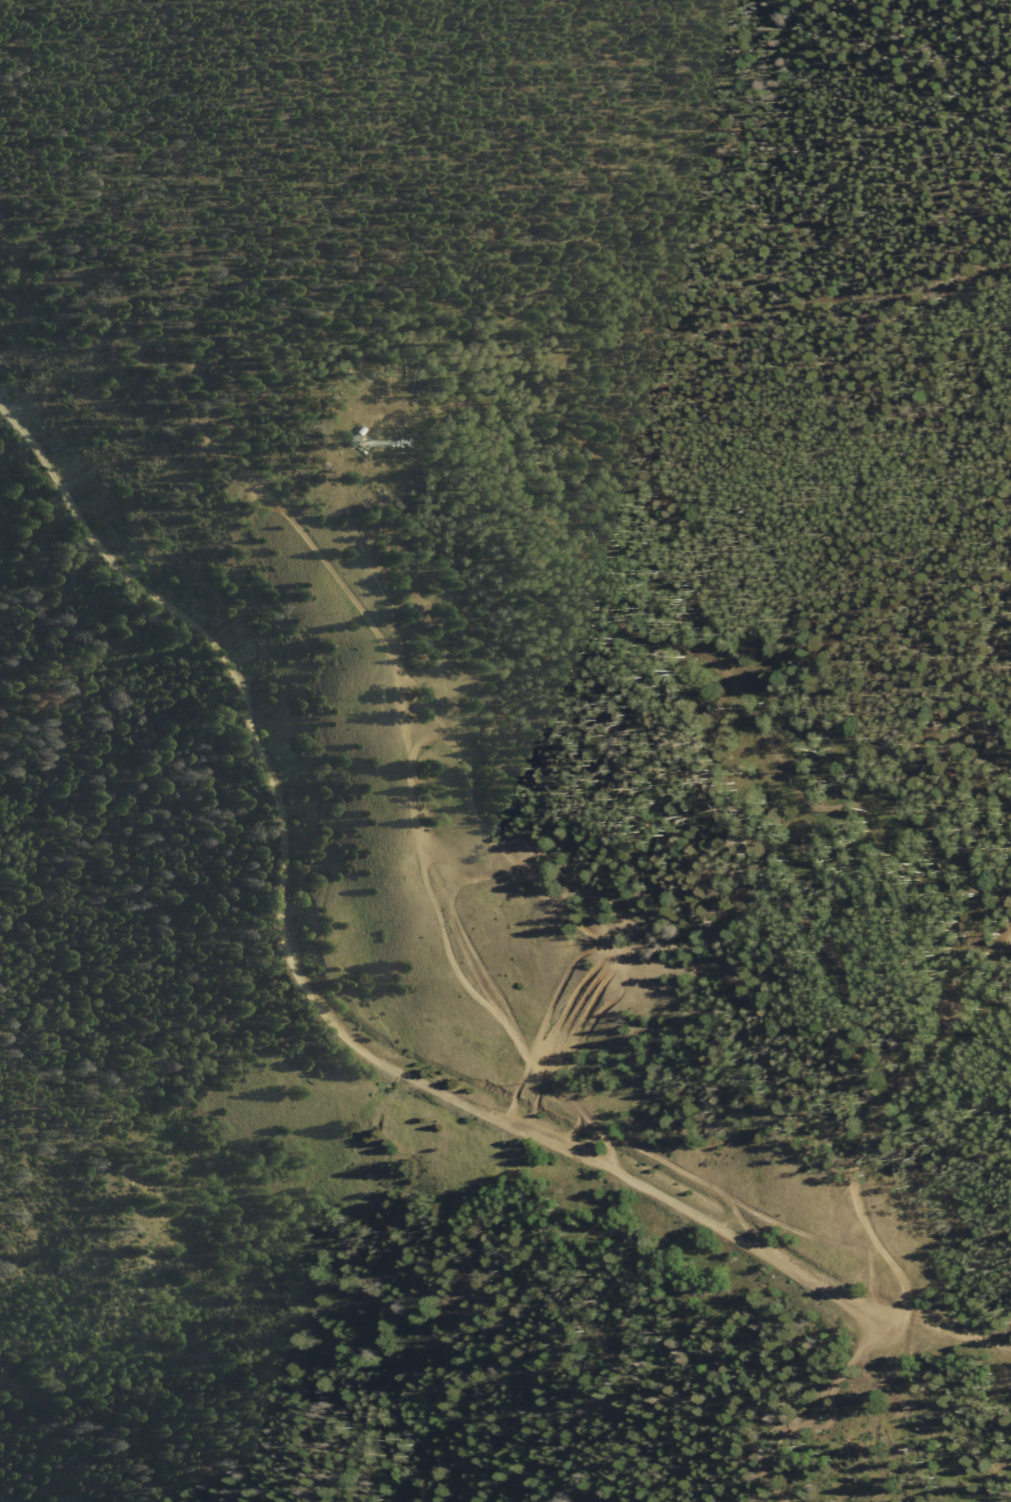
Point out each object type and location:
road: (537, 864)
road: (311, 994)
road: (165, 1017)
road: (103, 1122)
road: (922, 1161)
road: (960, 1331)
road: (1009, 1380)
road: (803, 1446)

